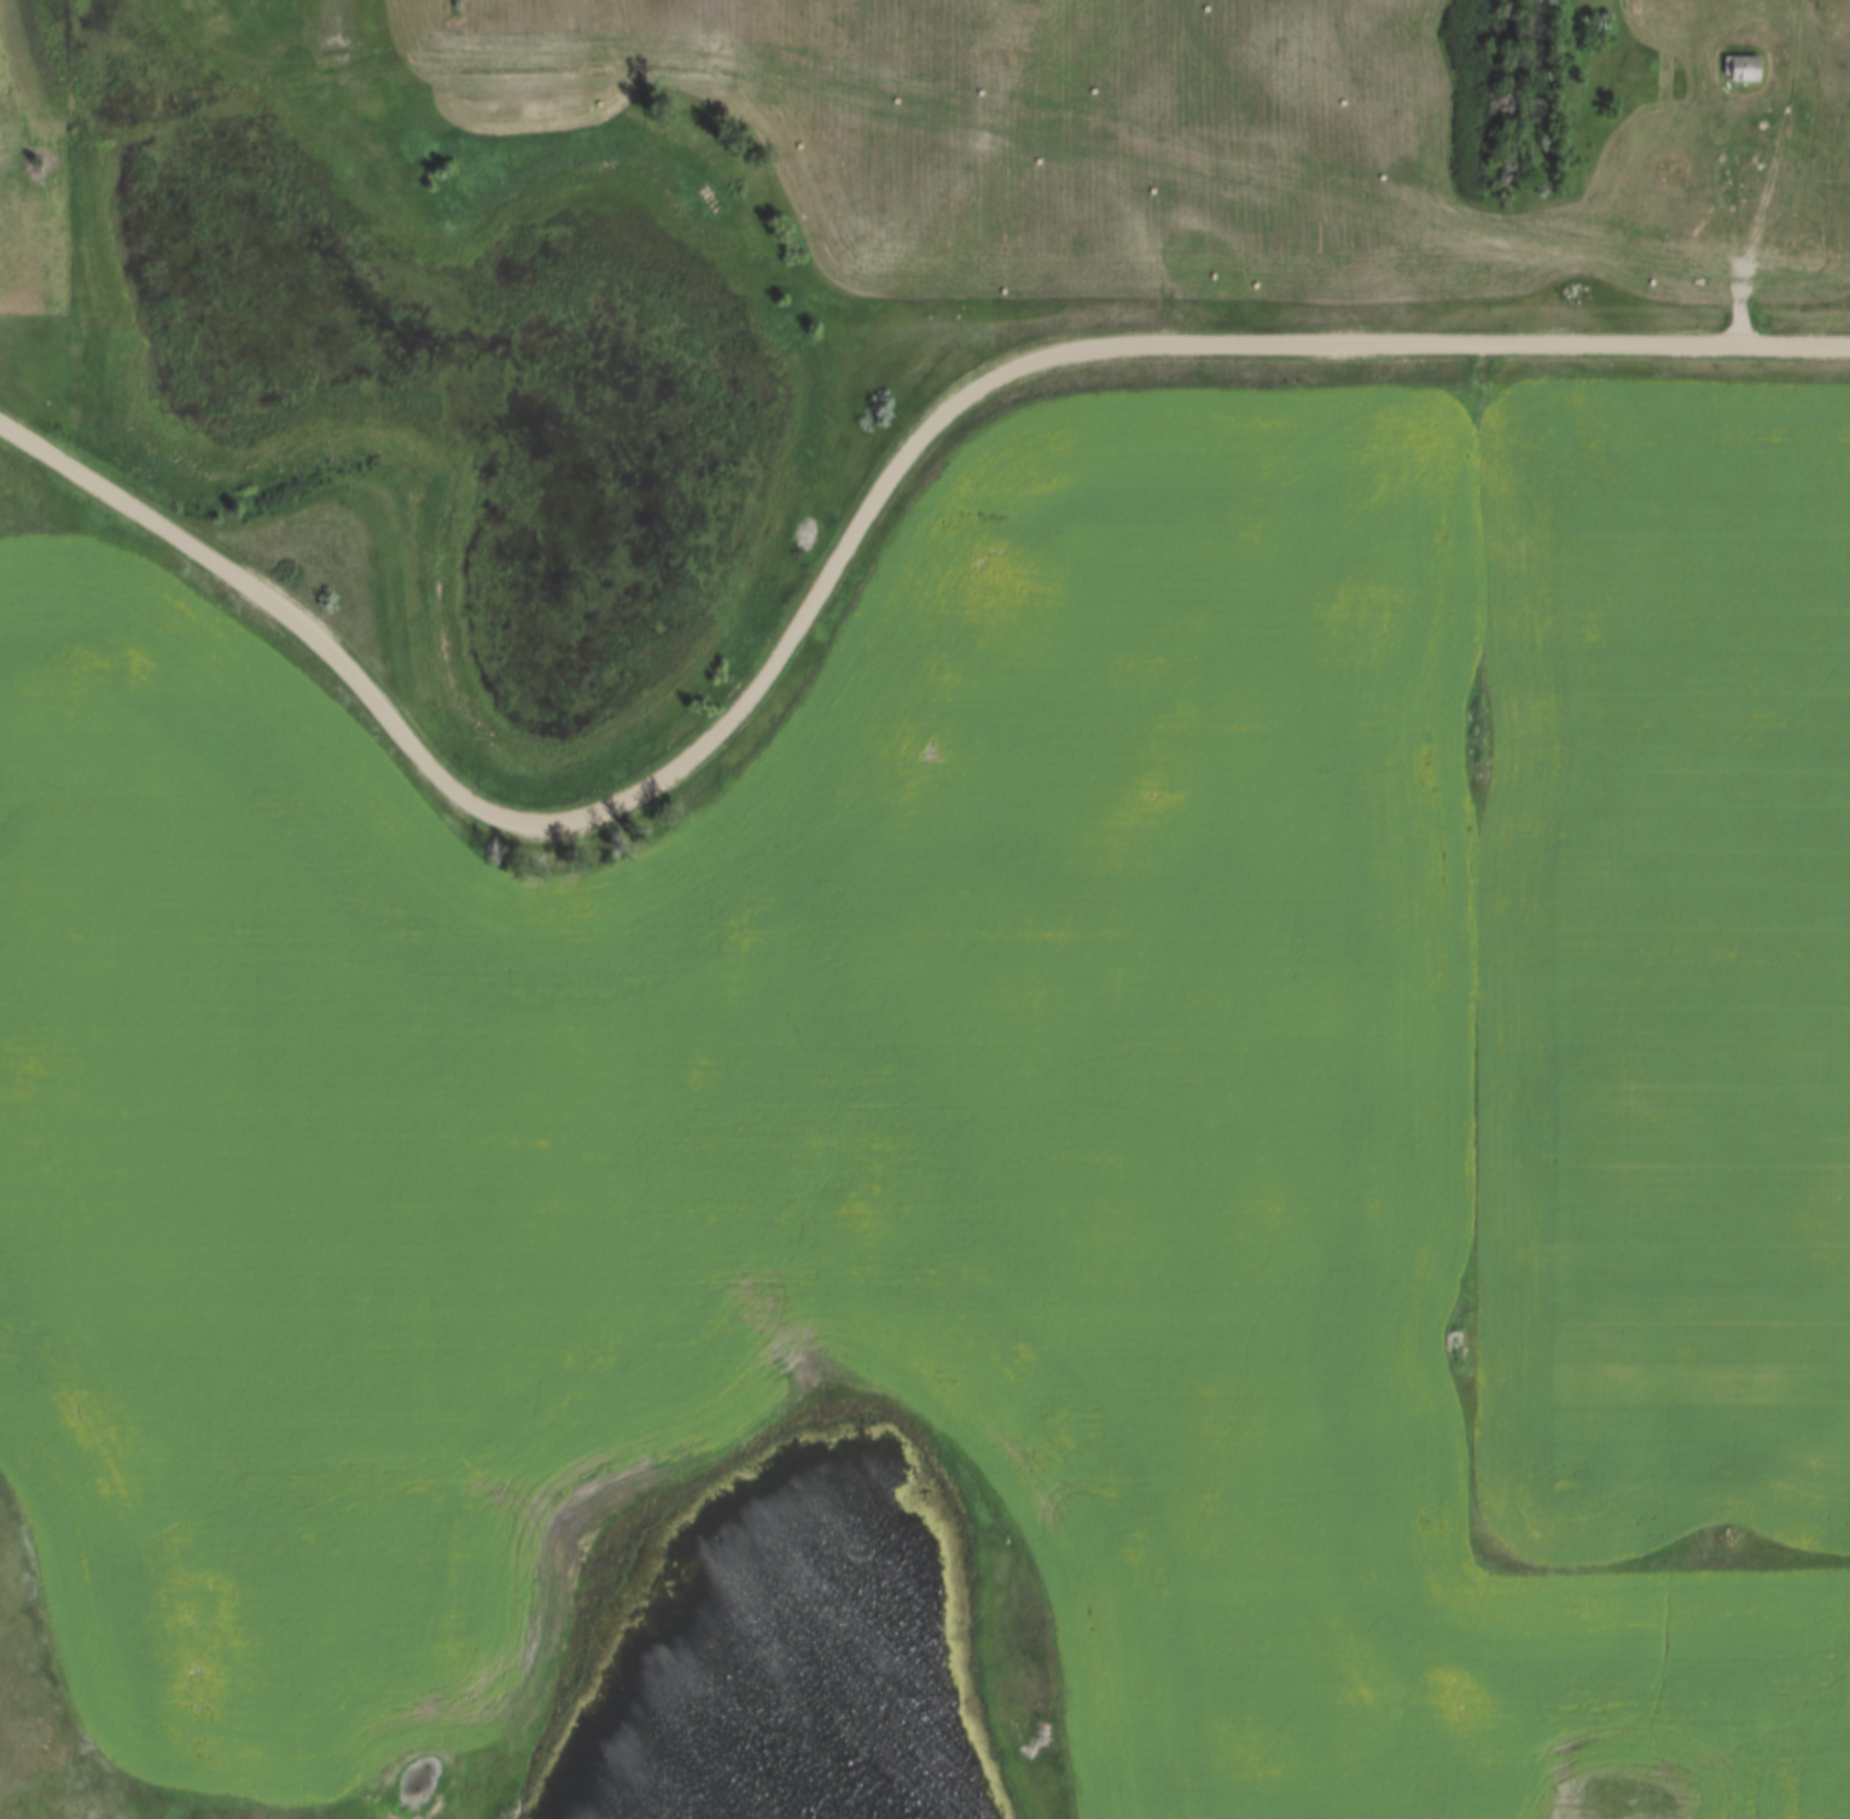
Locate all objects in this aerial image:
building: (1741, 66)
road: (1768, 173)
road: (837, 553)

